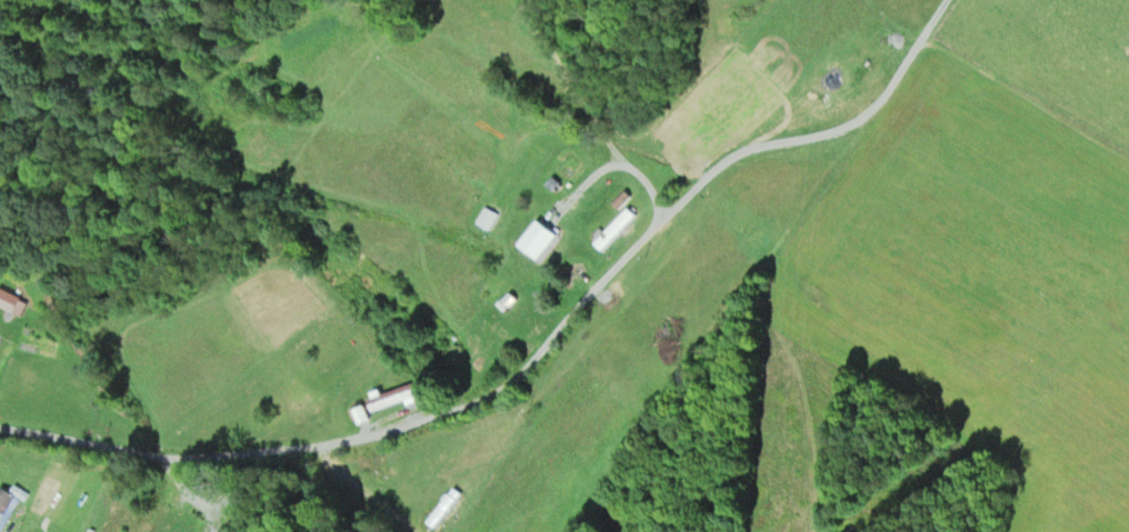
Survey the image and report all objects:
building: (487, 218)
building: (538, 239)
building: (11, 301)
building: (393, 395)
road: (437, 411)
building: (8, 503)

